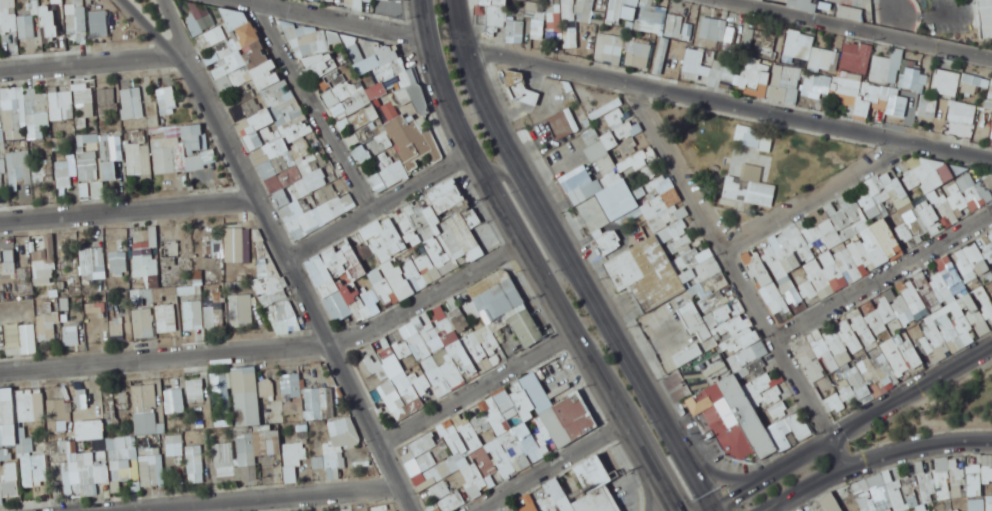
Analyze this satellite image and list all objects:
building: (646, 6)
road: (893, 7)
building: (615, 12)
road: (331, 17)
building: (986, 17)
building: (51, 25)
road: (178, 28)
building: (711, 28)
road: (858, 28)
building: (206, 29)
building: (516, 29)
building: (610, 48)
building: (638, 53)
building: (821, 60)
road: (92, 63)
building: (694, 67)
building: (718, 74)
building: (915, 75)
building: (853, 80)
building: (946, 83)
building: (785, 84)
building: (969, 86)
building: (168, 98)
road: (728, 101)
building: (133, 103)
road: (314, 107)
building: (56, 109)
building: (961, 119)
building: (257, 128)
building: (408, 134)
building: (196, 149)
building: (169, 155)
building: (88, 157)
building: (140, 158)
building: (22, 165)
building: (596, 166)
building: (3, 173)
building: (63, 174)
building: (733, 188)
road: (816, 193)
building: (446, 195)
road: (380, 205)
road: (129, 209)
road: (527, 215)
road: (282, 246)
road: (534, 262)
road: (572, 263)
road: (738, 272)
road: (884, 275)
road: (426, 293)
road: (165, 357)
road: (912, 388)
road: (479, 389)
park: (938, 405)
road: (918, 443)
road: (552, 467)
road: (776, 472)
road: (721, 475)
road: (653, 487)
road: (810, 489)
road: (244, 497)
road: (778, 508)
road: (718, 510)

